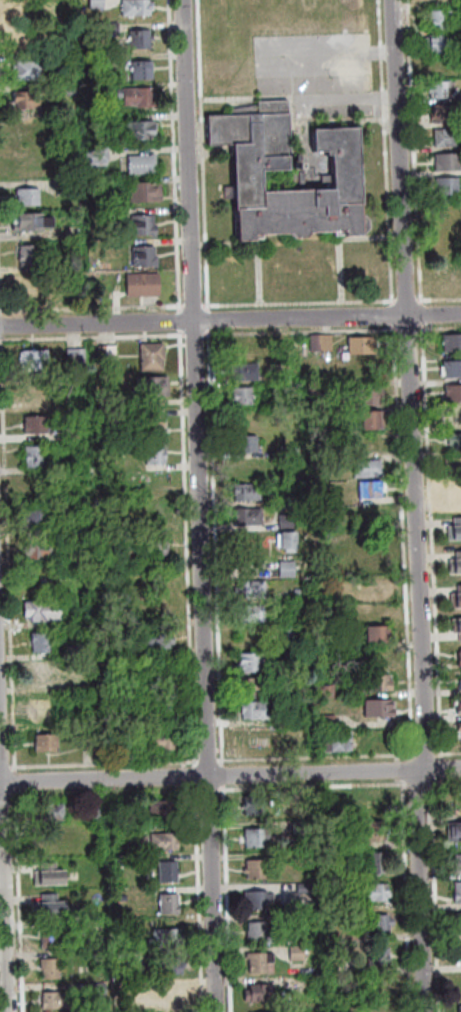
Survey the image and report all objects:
building: (69, 3)
building: (99, 4)
building: (139, 8)
building: (25, 12)
building: (440, 20)
building: (114, 28)
building: (70, 29)
building: (142, 40)
building: (22, 42)
building: (443, 46)
building: (145, 71)
building: (31, 73)
building: (440, 90)
building: (72, 93)
building: (141, 98)
building: (28, 102)
building: (447, 115)
building: (142, 131)
building: (448, 139)
building: (100, 158)
building: (261, 163)
building: (449, 163)
building: (145, 166)
building: (448, 187)
building: (67, 188)
building: (148, 194)
building: (30, 198)
building: (117, 216)
building: (34, 224)
building: (146, 227)
building: (30, 257)
building: (147, 258)
building: (146, 287)
building: (32, 288)
road: (292, 304)
road: (230, 321)
building: (323, 344)
building: (453, 344)
building: (363, 347)
building: (110, 355)
building: (78, 358)
building: (154, 359)
building: (37, 360)
building: (451, 370)
building: (245, 374)
building: (155, 389)
building: (454, 395)
building: (244, 397)
building: (369, 398)
building: (110, 403)
building: (453, 420)
building: (110, 422)
building: (373, 422)
building: (38, 426)
building: (153, 427)
building: (72, 437)
building: (455, 443)
building: (248, 446)
building: (291, 452)
building: (158, 456)
building: (37, 459)
building: (453, 468)
building: (369, 470)
building: (453, 489)
building: (372, 491)
building: (250, 494)
road: (204, 505)
road: (418, 507)
building: (250, 518)
building: (37, 520)
building: (289, 522)
building: (71, 526)
building: (456, 533)
building: (288, 543)
building: (160, 549)
building: (44, 552)
building: (127, 557)
building: (73, 560)
building: (456, 567)
building: (289, 570)
building: (152, 585)
building: (252, 591)
building: (300, 592)
building: (457, 602)
building: (44, 612)
building: (253, 615)
building: (457, 628)
building: (296, 635)
building: (379, 639)
building: (160, 641)
building: (43, 644)
building: (122, 651)
building: (74, 653)
building: (460, 660)
building: (252, 664)
building: (299, 666)
building: (41, 673)
building: (459, 681)
building: (378, 685)
building: (257, 688)
building: (329, 692)
building: (291, 695)
building: (457, 704)
building: (41, 709)
building: (382, 710)
building: (257, 712)
building: (460, 712)
building: (290, 718)
building: (329, 723)
building: (252, 733)
building: (459, 736)
building: (163, 743)
building: (91, 744)
building: (340, 745)
building: (48, 746)
road: (230, 775)
building: (377, 804)
building: (256, 808)
building: (164, 812)
building: (327, 812)
building: (56, 814)
road: (5, 816)
building: (95, 818)
building: (302, 829)
building: (378, 834)
building: (455, 834)
building: (259, 839)
building: (165, 843)
building: (332, 845)
building: (380, 865)
building: (459, 865)
building: (260, 870)
building: (170, 874)
building: (51, 882)
building: (306, 888)
building: (377, 894)
building: (459, 894)
building: (260, 901)
building: (50, 903)
building: (171, 906)
building: (52, 914)
building: (459, 923)
building: (381, 924)
building: (262, 936)
building: (167, 939)
building: (52, 940)
building: (299, 954)
building: (127, 956)
building: (381, 958)
building: (460, 961)
building: (263, 964)
building: (170, 968)
building: (53, 971)
building: (459, 986)
building: (131, 989)
building: (100, 991)
building: (261, 995)
building: (173, 996)
building: (58, 1003)

